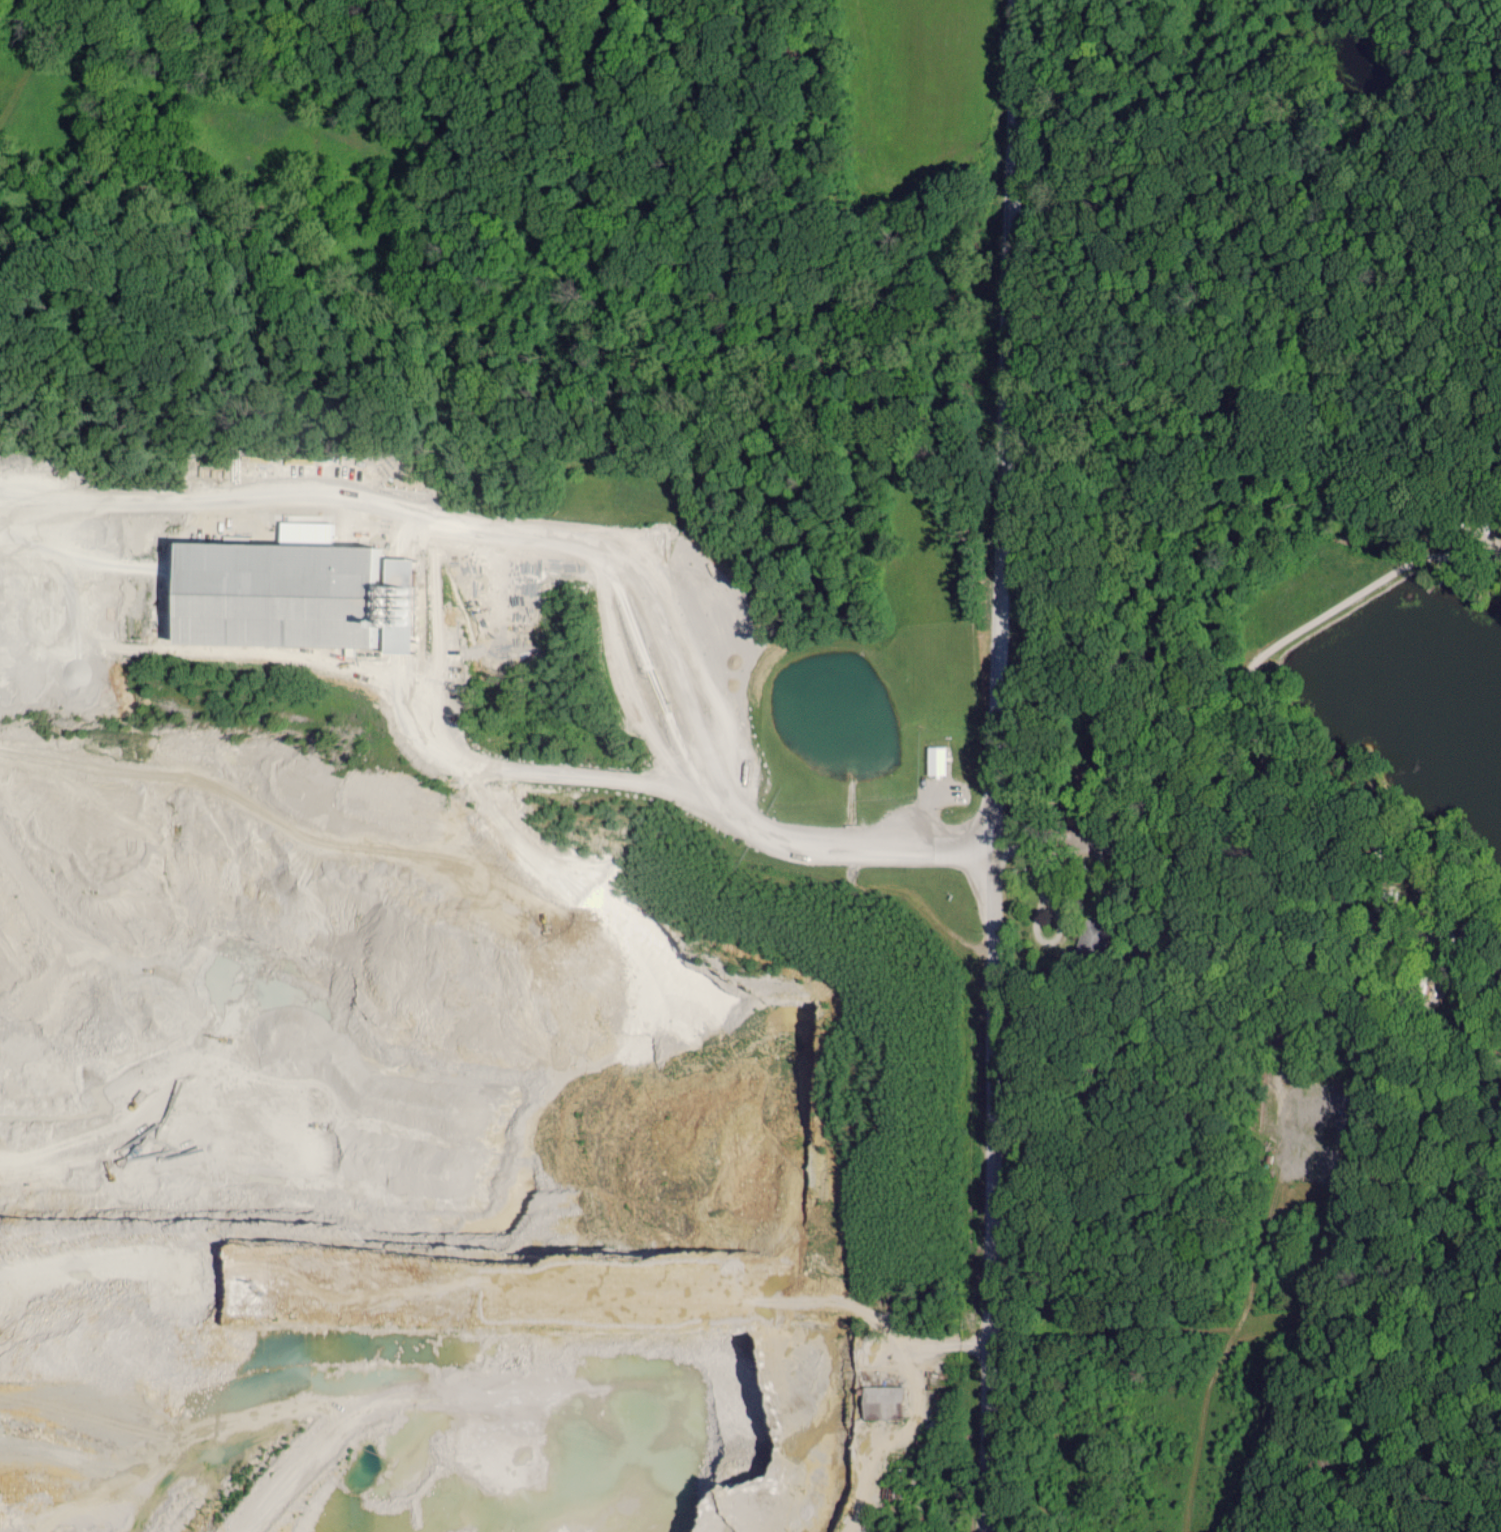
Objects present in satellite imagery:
road: (623, 552)
building: (303, 597)
road: (74, 687)
building: (933, 760)
road: (458, 761)
road: (1005, 765)
building: (888, 1400)

